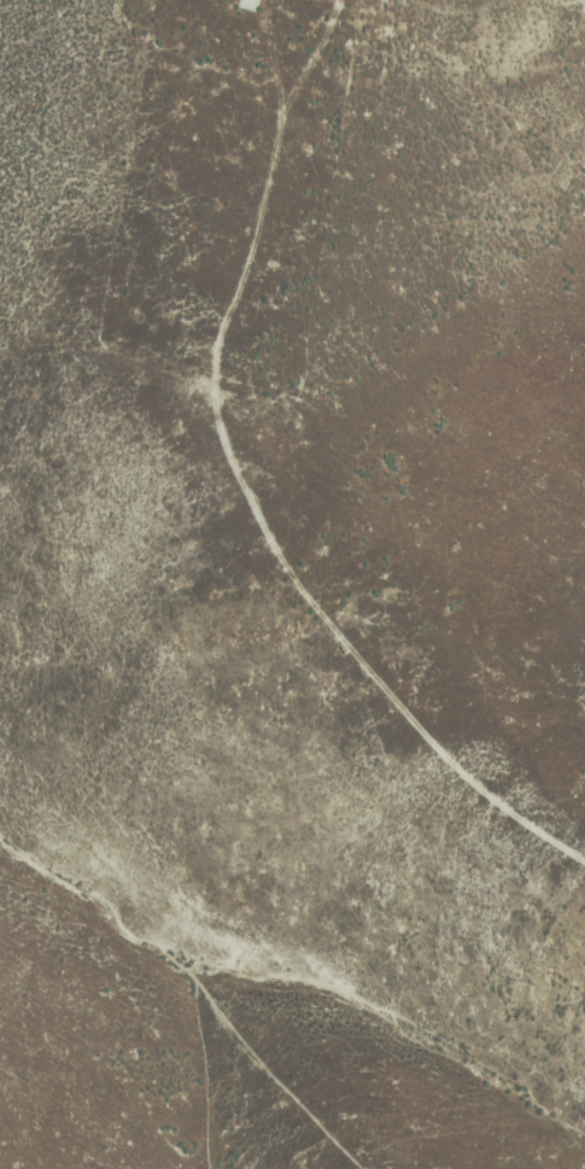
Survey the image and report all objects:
road: (247, 485)

